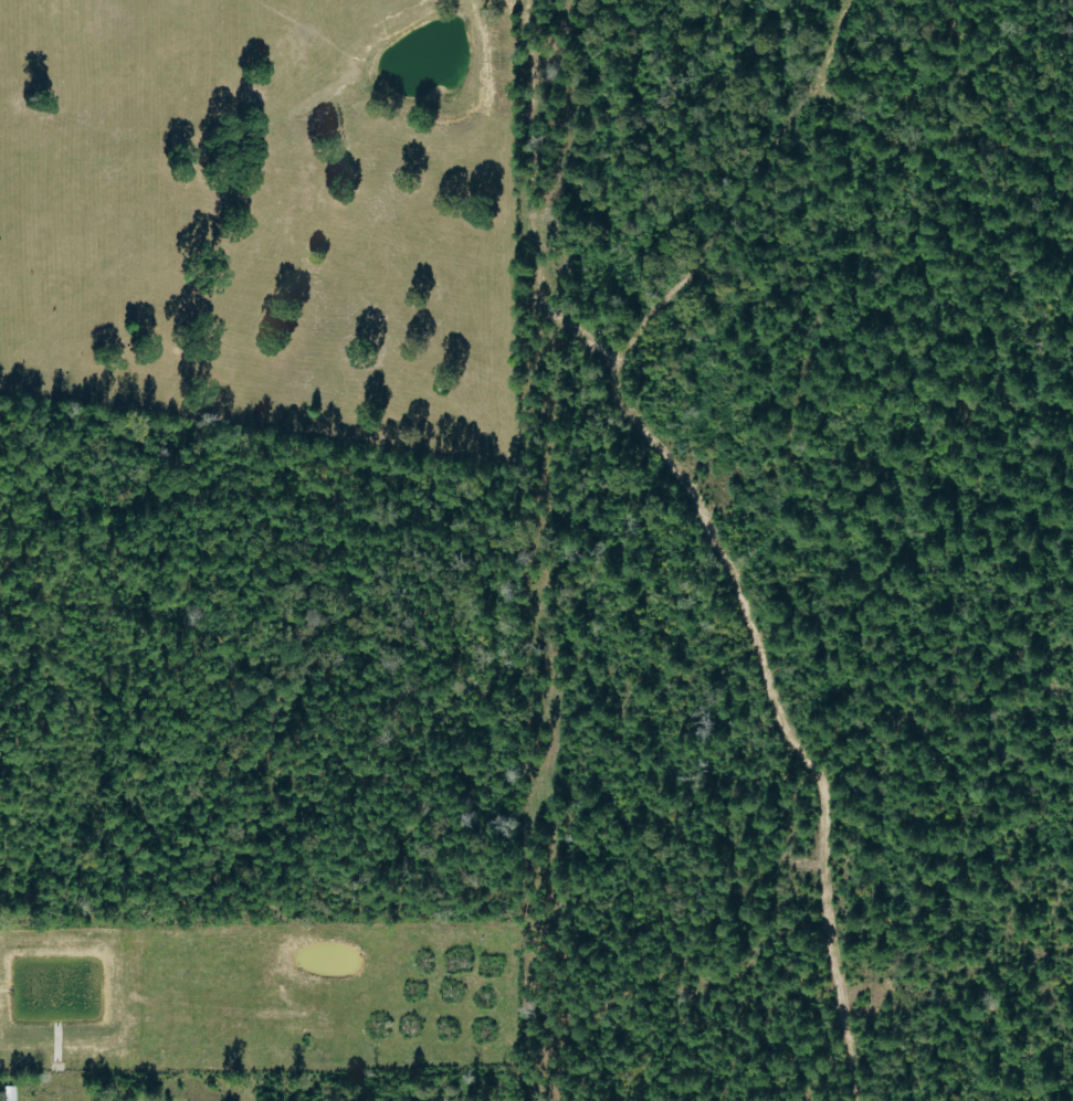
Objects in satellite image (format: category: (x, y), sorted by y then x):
building: (8, 1093)

